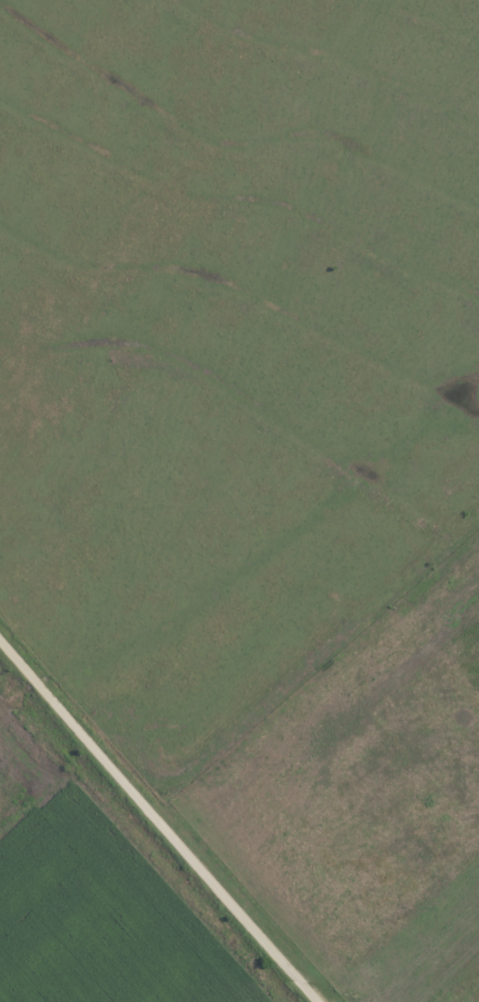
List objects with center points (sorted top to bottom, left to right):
road: (160, 819)

